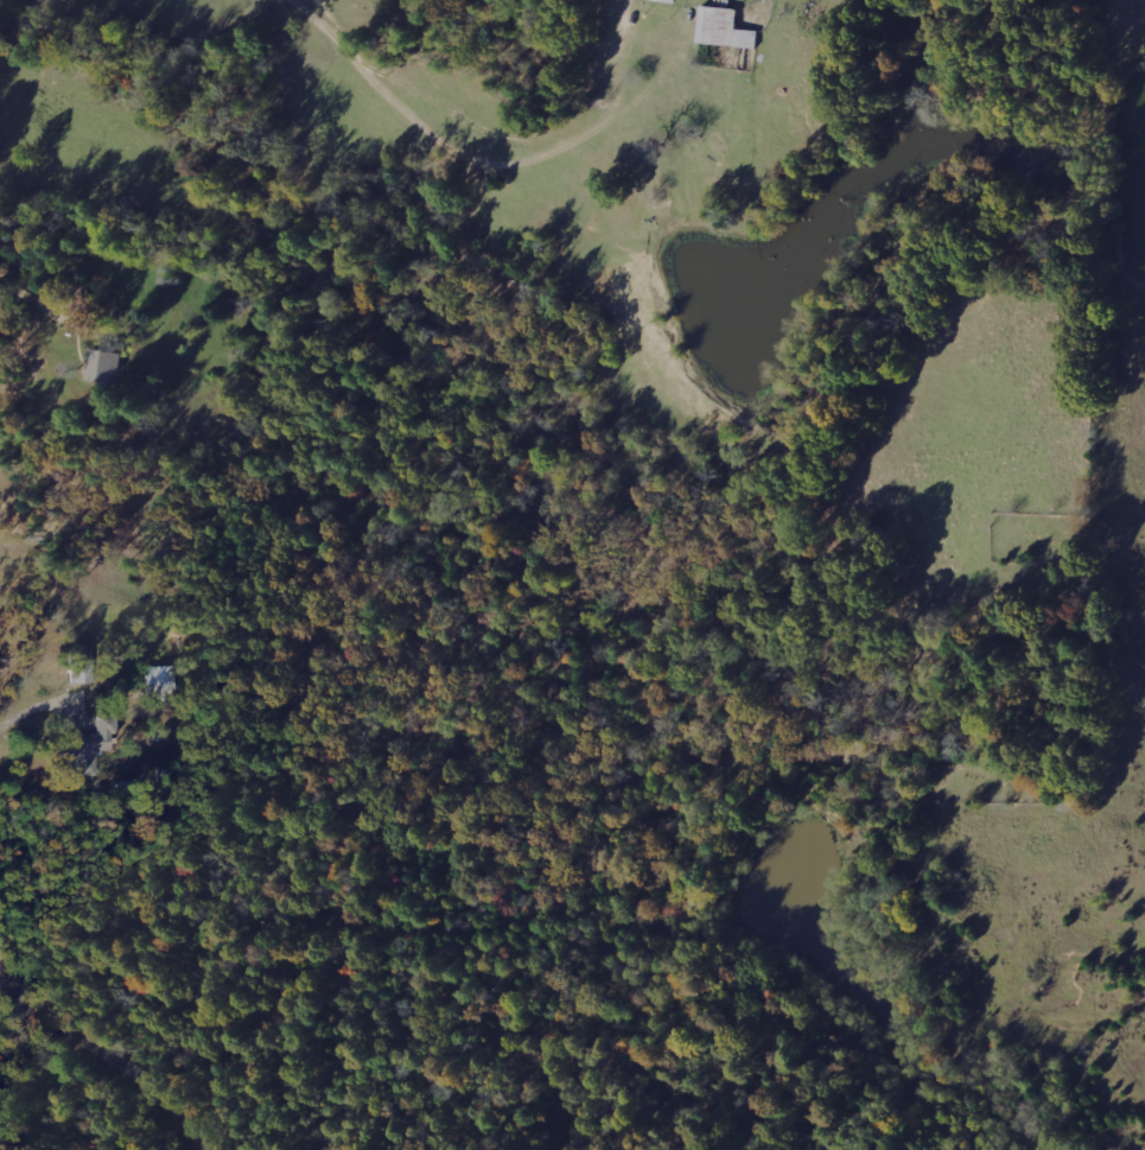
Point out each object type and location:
building: (673, 0)
building: (727, 27)
building: (107, 364)
building: (79, 663)
building: (160, 684)
building: (90, 745)
road: (103, 1053)
park: (58, 1104)

